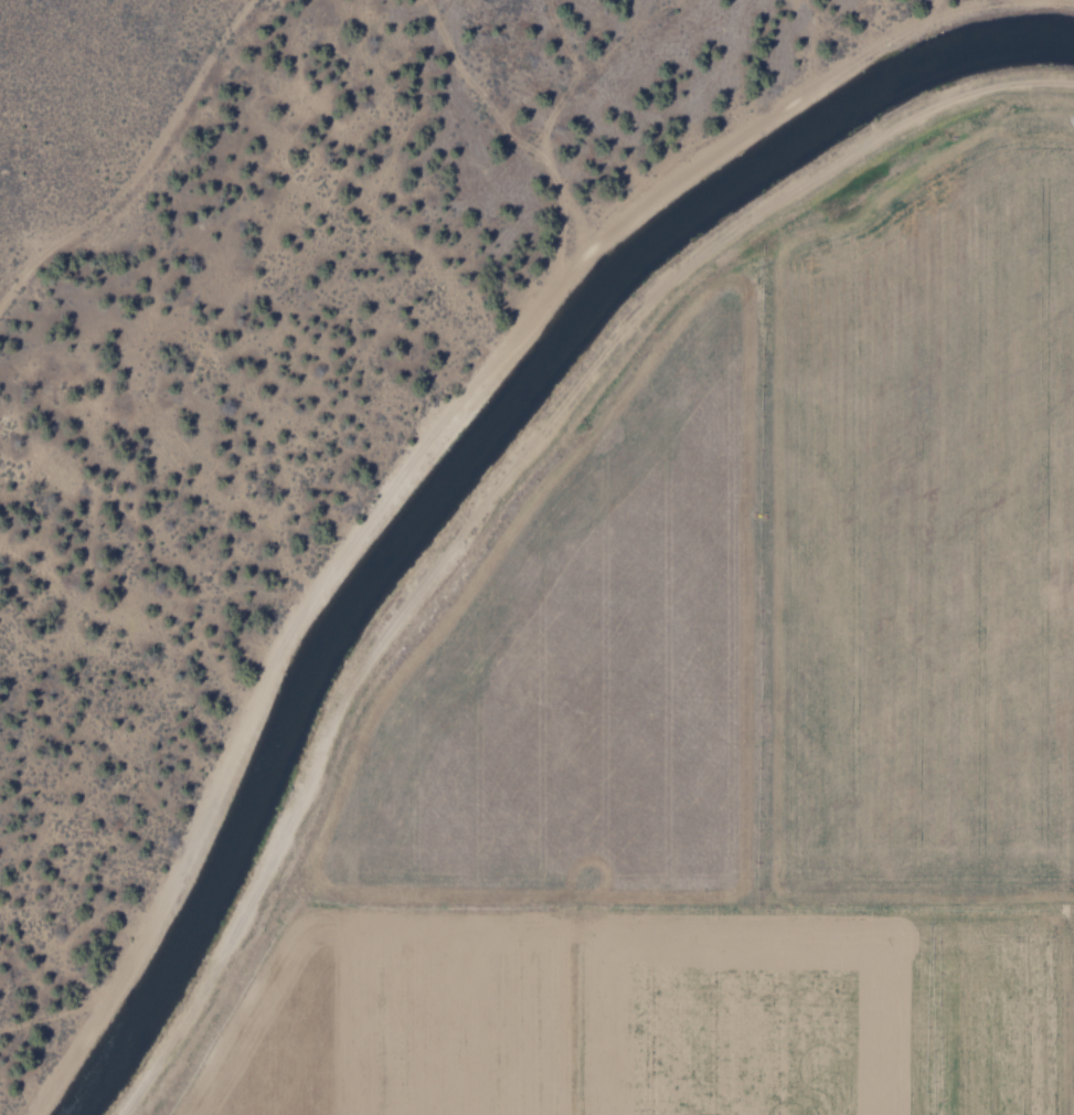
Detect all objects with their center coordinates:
road: (500, 493)
crop: (684, 662)

